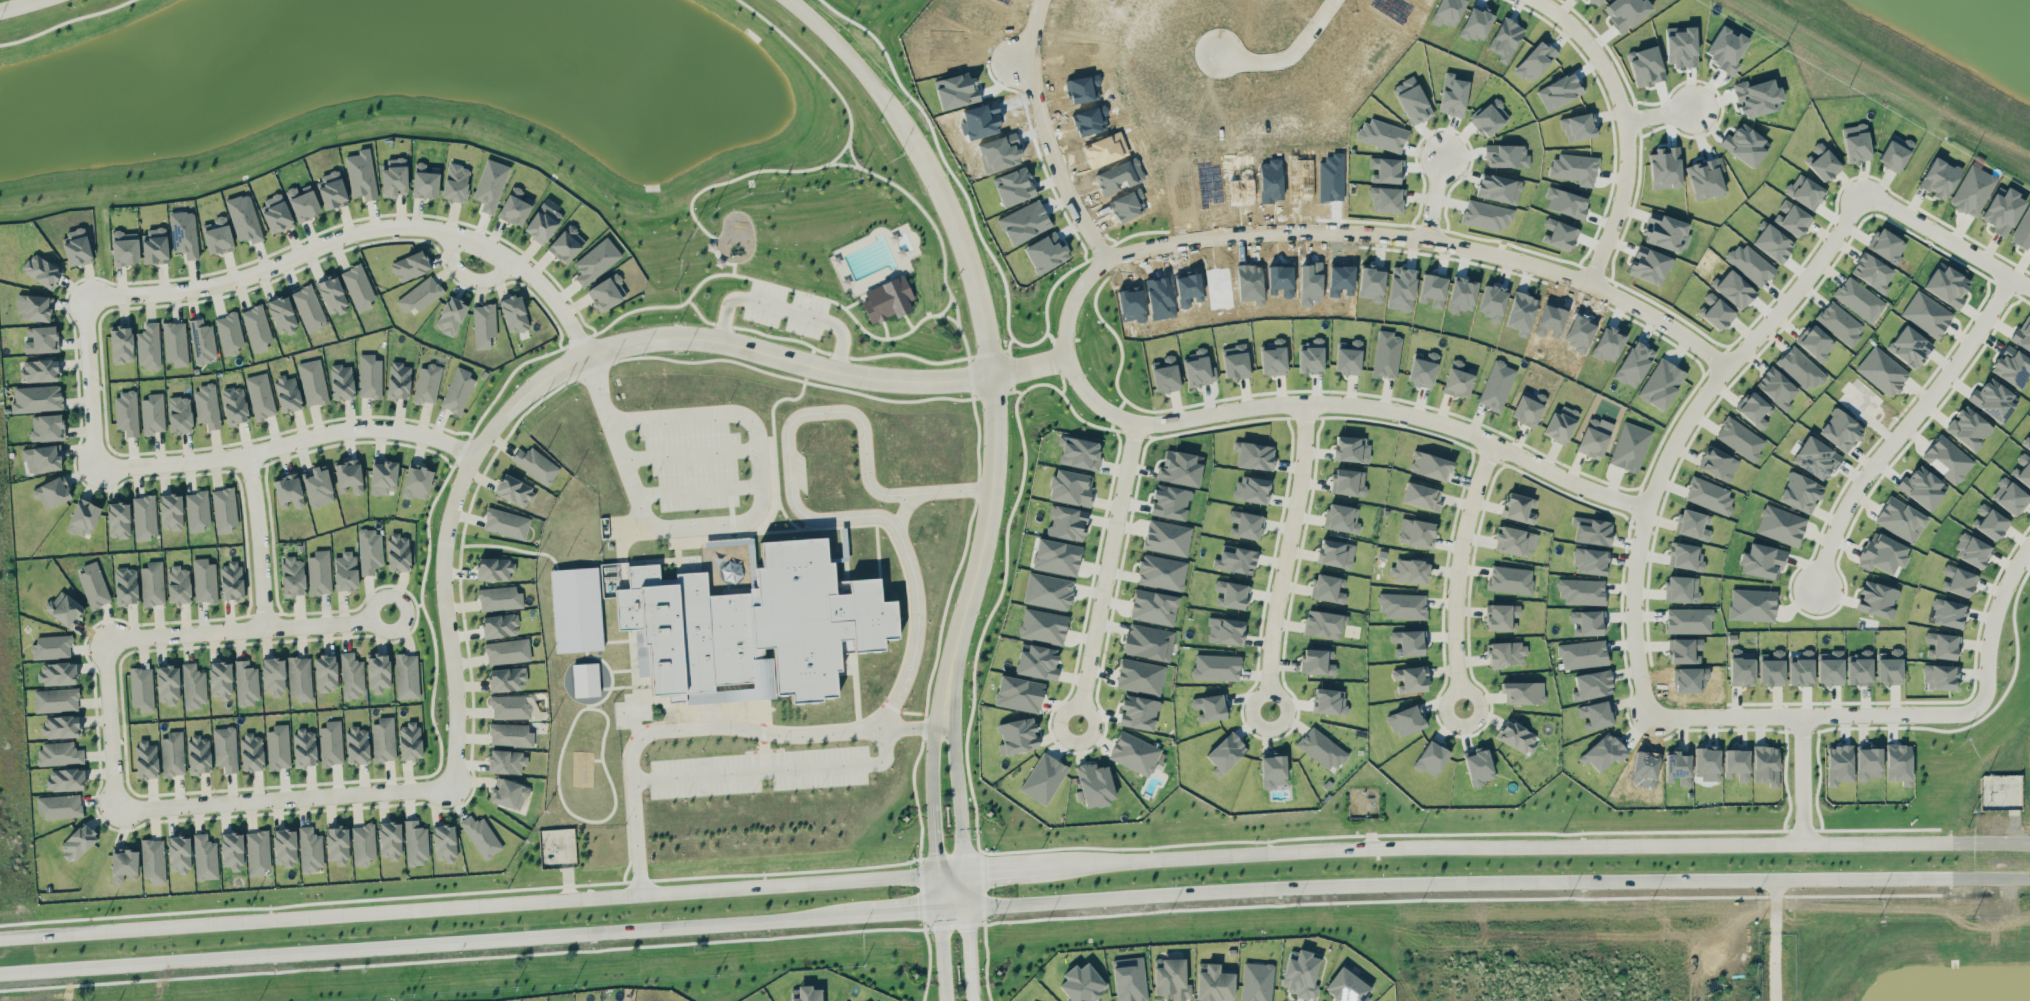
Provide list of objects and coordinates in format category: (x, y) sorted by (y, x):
building: (1597, 2)
road: (18, 5)
building: (1449, 11)
road: (64, 21)
building: (1681, 47)
building: (1726, 48)
road: (1289, 56)
road: (811, 61)
building: (1534, 61)
building: (1757, 97)
building: (1453, 98)
building: (1411, 100)
road: (1659, 115)
building: (1490, 117)
building: (1577, 126)
road: (1626, 129)
road: (1046, 135)
building: (1382, 135)
building: (1856, 142)
building: (1744, 144)
building: (1895, 152)
road: (840, 153)
road: (852, 154)
road: (840, 163)
building: (1823, 163)
road: (929, 166)
building: (1574, 168)
building: (361, 174)
building: (393, 177)
building: (1705, 178)
building: (1939, 178)
building: (425, 180)
building: (455, 183)
building: (490, 185)
building: (1498, 187)
building: (332, 190)
building: (1972, 190)
building: (1807, 193)
road: (1436, 198)
building: (1386, 199)
building: (303, 202)
building: (515, 206)
building: (2002, 211)
building: (276, 213)
building: (1486, 215)
building: (244, 218)
building: (1791, 218)
building: (542, 223)
building: (2023, 230)
road: (358, 231)
building: (1665, 231)
building: (183, 233)
road: (1387, 235)
building: (217, 236)
road: (1948, 240)
building: (567, 243)
building: (1773, 243)
building: (154, 245)
building: (1887, 246)
building: (76, 247)
building: (124, 248)
building: (596, 261)
building: (1750, 263)
building: (410, 266)
building: (42, 270)
building: (1872, 272)
road: (467, 276)
road: (770, 283)
building: (1946, 285)
building: (358, 286)
building: (1734, 289)
building: (607, 292)
building: (332, 294)
building: (420, 294)
building: (888, 299)
building: (1858, 299)
parking lot: (765, 302)
road: (855, 302)
road: (804, 303)
road: (946, 305)
building: (34, 307)
building: (308, 307)
road: (786, 309)
building: (1716, 312)
building: (514, 313)
building: (1926, 313)
parking lot: (807, 314)
building: (282, 315)
building: (450, 315)
road: (908, 321)
building: (1839, 323)
building: (483, 325)
building: (257, 327)
road: (886, 328)
building: (229, 333)
building: (2023, 334)
building: (40, 339)
building: (202, 341)
building: (175, 343)
building: (1816, 343)
building: (121, 344)
road: (1009, 344)
building: (148, 346)
building: (1909, 346)
road: (1007, 349)
road: (822, 350)
road: (986, 353)
building: (1386, 354)
road: (586, 355)
road: (811, 355)
building: (1311, 356)
building: (1348, 356)
building: (1273, 357)
building: (1235, 361)
building: (2012, 366)
building: (1799, 368)
road: (1010, 369)
building: (1199, 369)
building: (1423, 369)
building: (40, 370)
building: (1882, 371)
building: (1165, 374)
road: (970, 375)
building: (369, 376)
building: (1458, 378)
building: (398, 380)
building: (341, 381)
road: (90, 382)
building: (312, 382)
building: (427, 383)
building: (1661, 384)
building: (1496, 385)
road: (597, 387)
building: (1777, 387)
building: (457, 390)
building: (287, 393)
building: (260, 395)
building: (37, 398)
building: (1993, 399)
building: (1860, 400)
road: (1340, 404)
building: (207, 405)
building: (234, 405)
building: (1528, 407)
building: (1754, 410)
building: (126, 412)
building: (152, 413)
building: (179, 413)
building: (1560, 423)
building: (46, 427)
road: (1683, 427)
road: (1904, 428)
building: (1968, 428)
building: (1840, 430)
road: (978, 434)
building: (1593, 438)
building: (1740, 438)
road: (287, 442)
building: (2028, 444)
building: (1629, 447)
building: (1351, 449)
road: (691, 453)
building: (1079, 453)
building: (1255, 456)
building: (1817, 457)
building: (42, 458)
building: (1947, 459)
building: (1718, 463)
building: (535, 464)
building: (1430, 465)
building: (1180, 467)
building: (2023, 469)
building: (348, 476)
building: (383, 476)
building: (416, 481)
building: (1349, 482)
building: (318, 486)
building: (1070, 487)
building: (1922, 487)
road: (977, 488)
building: (1252, 489)
building: (514, 490)
road: (699, 490)
road: (791, 490)
building: (289, 491)
building: (52, 492)
building: (1799, 492)
building: (1421, 496)
building: (1709, 496)
building: (2010, 497)
building: (1169, 502)
road: (760, 505)
road: (902, 508)
building: (1519, 508)
building: (197, 510)
building: (224, 510)
building: (171, 511)
building: (144, 516)
building: (83, 517)
building: (1342, 518)
building: (1900, 519)
building: (118, 520)
building: (1067, 522)
building: (506, 523)
building: (1245, 524)
building: (1693, 524)
building: (1991, 524)
building: (1780, 525)
road: (621, 527)
building: (1592, 530)
building: (1416, 532)
building: (1167, 537)
building: (1515, 541)
road: (259, 542)
building: (370, 550)
road: (982, 550)
building: (1972, 550)
building: (398, 552)
building: (1335, 553)
building: (1882, 553)
building: (1056, 556)
road: (1287, 556)
building: (1687, 556)
building: (1235, 559)
building: (1590, 561)
building: (1762, 561)
building: (494, 568)
building: (345, 570)
building: (1409, 570)
building: (319, 572)
building: (1161, 572)
road: (1107, 573)
road: (1458, 573)
building: (292, 576)
building: (1510, 579)
building: (204, 580)
building: (231, 581)
building: (1961, 582)
building: (152, 583)
building: (178, 584)
building: (93, 585)
building: (126, 585)
building: (840, 586)
building: (1328, 588)
building: (1682, 589)
building: (1048, 591)
building: (1581, 591)
building: (1231, 594)
building: (499, 597)
building: (1876, 599)
building: (1752, 604)
building: (1403, 605)
building: (1153, 607)
building: (64, 609)
building: (576, 609)
building: (1950, 613)
building: (1502, 617)
building: (1688, 620)
building: (1587, 622)
road: (1992, 622)
building: (1324, 623)
building: (499, 625)
building: (1043, 625)
building: (752, 627)
road: (248, 630)
building: (1226, 631)
building: (1148, 641)
building: (1408, 642)
building: (1941, 645)
building: (51, 646)
building: (1686, 650)
building: (507, 651)
building: (1582, 653)
building: (1506, 654)
building: (1037, 661)
building: (1318, 661)
building: (1216, 666)
building: (1889, 666)
building: (1741, 667)
building: (1830, 667)
building: (1771, 668)
building: (1800, 668)
building: (1859, 668)
building: (378, 672)
building: (56, 673)
building: (326, 673)
building: (351, 675)
building: (406, 675)
building: (273, 676)
building: (1140, 676)
building: (1940, 676)
building: (299, 678)
building: (506, 679)
building: (586, 679)
building: (1410, 679)
building: (220, 680)
building: (246, 682)
building: (167, 684)
building: (1592, 684)
building: (193, 686)
building: (142, 688)
building: (1523, 692)
building: (1019, 693)
building: (55, 699)
building: (1329, 701)
building: (510, 707)
road: (891, 707)
building: (1209, 707)
building: (1138, 712)
building: (1595, 714)
road: (1815, 715)
building: (1406, 720)
road: (110, 725)
building: (60, 726)
road: (729, 727)
road: (923, 727)
building: (510, 735)
building: (1017, 735)
building: (1517, 735)
building: (383, 739)
building: (409, 740)
building: (331, 742)
building: (357, 744)
building: (278, 747)
building: (304, 747)
building: (225, 748)
building: (1322, 749)
building: (251, 751)
building: (1225, 752)
building: (1603, 752)
building: (59, 753)
building: (1135, 753)
building: (172, 754)
building: (198, 754)
building: (1432, 757)
building: (146, 759)
building: (506, 761)
road: (932, 761)
building: (1706, 762)
building: (1868, 762)
building: (1736, 763)
building: (1898, 763)
building: (1766, 764)
building: (1839, 764)
building: (1479, 767)
building: (1678, 767)
road: (773, 770)
building: (1273, 770)
building: (1044, 778)
road: (1802, 778)
building: (65, 779)
building: (1095, 785)
building: (508, 794)
road: (958, 797)
road: (284, 799)
building: (59, 805)
building: (481, 836)
building: (389, 840)
road: (933, 840)
road: (1991, 840)
building: (77, 841)
building: (416, 842)
building: (444, 843)
building: (337, 844)
building: (363, 844)
road: (1511, 844)
building: (284, 847)
building: (310, 849)
building: (232, 850)
traffic signals: (934, 851)
building: (258, 852)
building: (178, 854)
building: (205, 857)
building: (153, 860)
building: (123, 864)
road: (1019, 869)
traffic signals: (989, 872)
road: (951, 874)
road: (1929, 877)
road: (1977, 877)
road: (2016, 877)
road: (1436, 882)
road: (967, 889)
road: (936, 890)
road: (467, 904)
road: (953, 905)
traffic signals: (917, 907)
road: (896, 908)
traffic signals: (969, 930)
road: (427, 942)
road: (969, 950)
road: (942, 952)
building: (1300, 974)
building: (1129, 979)
building: (1171, 979)
building: (1256, 981)
building: (1082, 983)
building: (1213, 983)
building: (1348, 985)
building: (807, 994)
road: (973, 998)

